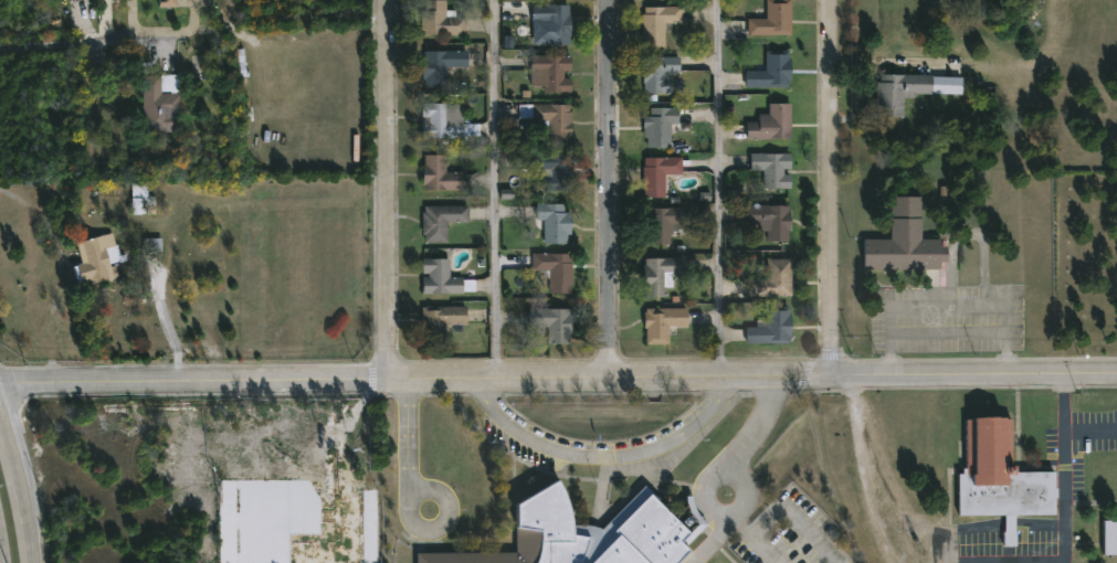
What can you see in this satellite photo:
building: (167, 3)
building: (440, 19)
building: (774, 19)
building: (554, 22)
building: (658, 23)
road: (83, 41)
building: (241, 63)
building: (442, 65)
building: (772, 71)
building: (551, 73)
building: (661, 74)
building: (911, 91)
building: (159, 105)
building: (550, 119)
building: (444, 124)
building: (772, 124)
building: (661, 126)
building: (555, 169)
building: (772, 169)
building: (660, 174)
building: (441, 176)
road: (718, 188)
road: (829, 188)
road: (610, 189)
road: (388, 190)
road: (495, 190)
building: (143, 200)
building: (772, 221)
building: (442, 222)
building: (555, 223)
building: (663, 225)
building: (908, 242)
building: (151, 245)
building: (97, 259)
building: (556, 269)
building: (661, 275)
building: (443, 278)
building: (774, 279)
building: (441, 321)
building: (552, 323)
building: (664, 323)
building: (772, 327)
road: (558, 380)
road: (1090, 428)
road: (734, 454)
road: (604, 456)
road: (9, 459)
road: (1064, 469)
building: (999, 476)
road: (410, 486)
road: (797, 517)
road: (25, 525)
building: (592, 532)
building: (1109, 537)
road: (762, 549)
road: (0, 561)

